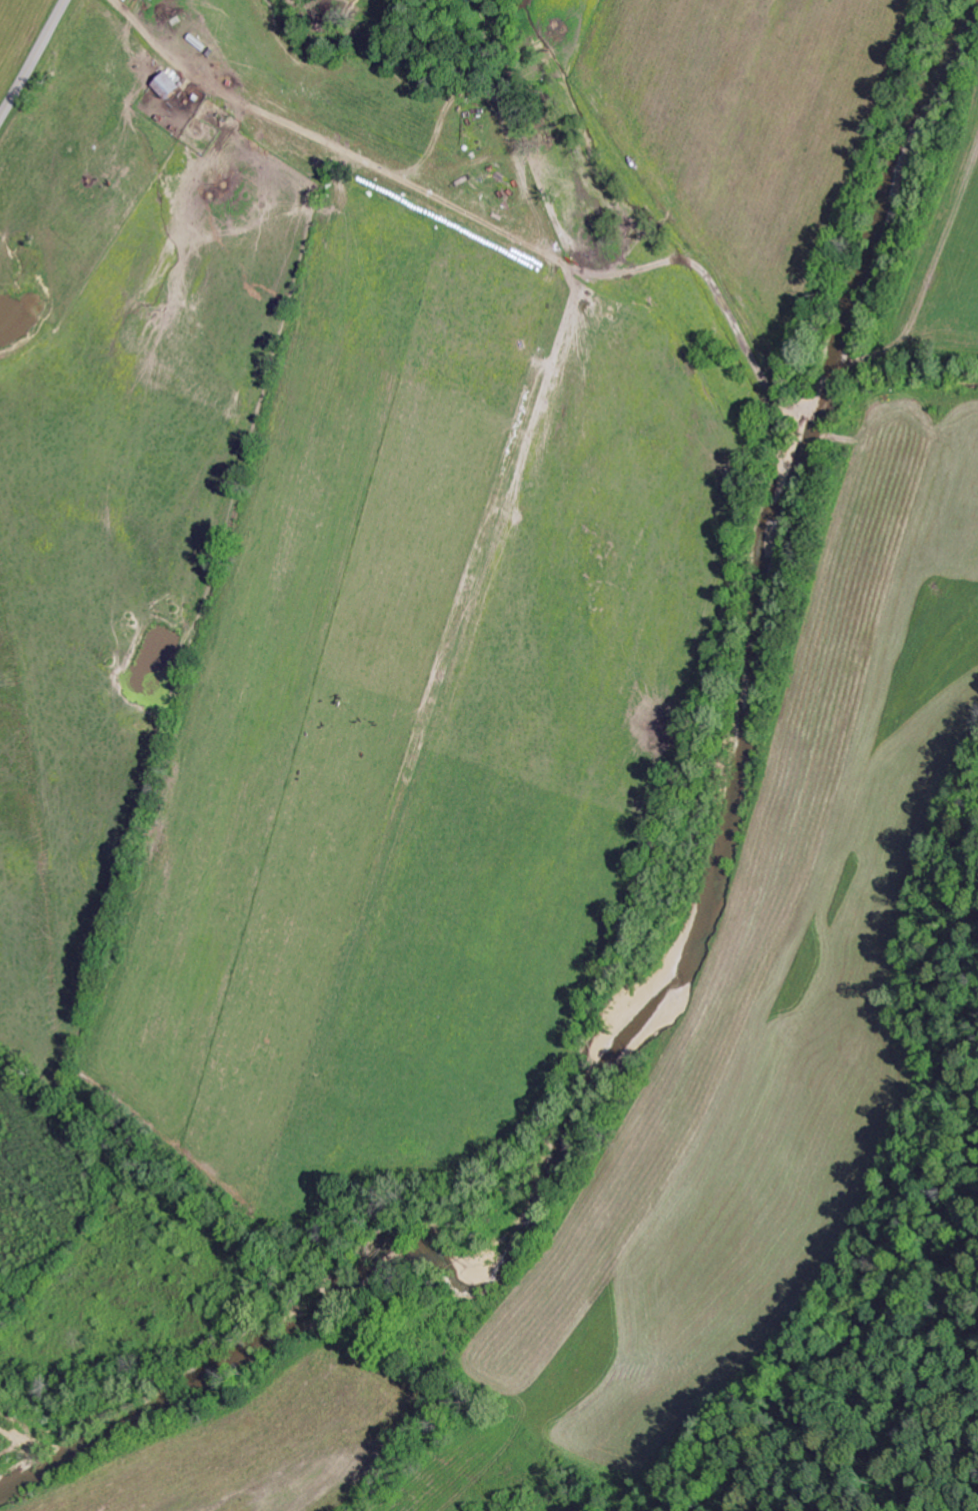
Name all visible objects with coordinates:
road: (31, 56)

